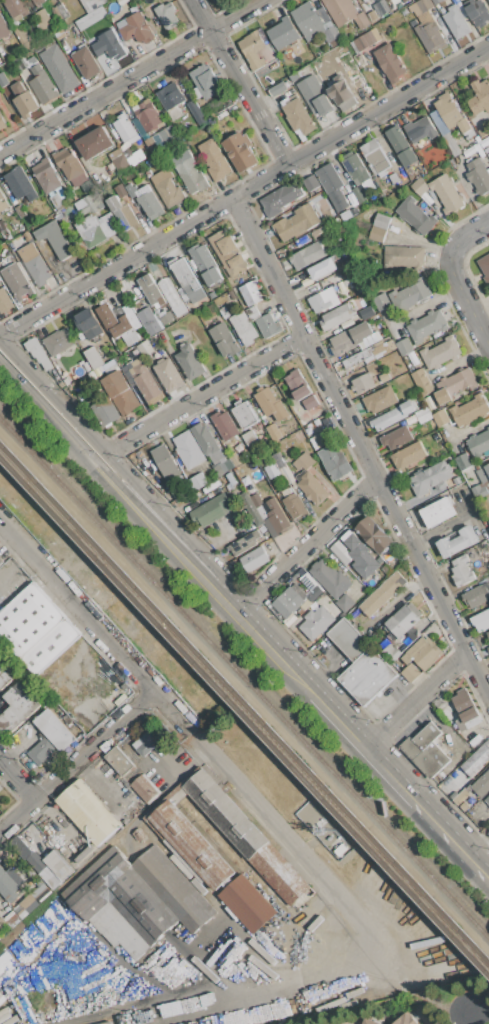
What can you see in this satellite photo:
building: (357, 0)
building: (359, 0)
building: (385, 0)
building: (387, 0)
building: (401, 0)
building: (488, 0)
building: (35, 1)
building: (214, 1)
building: (366, 1)
building: (90, 4)
building: (422, 6)
building: (16, 8)
building: (381, 8)
building: (340, 10)
building: (477, 13)
building: (166, 15)
road: (237, 15)
building: (373, 15)
building: (306, 18)
building: (43, 20)
building: (361, 21)
building: (456, 22)
building: (3, 28)
building: (136, 29)
building: (331, 34)
building: (22, 36)
building: (284, 36)
building: (430, 36)
building: (365, 41)
building: (109, 45)
building: (39, 47)
building: (253, 49)
building: (86, 63)
building: (389, 63)
building: (59, 68)
building: (205, 81)
road: (241, 82)
building: (43, 84)
building: (278, 89)
building: (342, 92)
road: (105, 93)
building: (314, 95)
building: (480, 97)
building: (173, 100)
building: (26, 103)
building: (222, 103)
building: (196, 112)
building: (451, 113)
building: (147, 116)
building: (299, 117)
building: (2, 121)
building: (126, 128)
building: (420, 130)
building: (164, 136)
building: (396, 138)
building: (95, 142)
building: (151, 144)
building: (241, 152)
building: (374, 155)
building: (408, 157)
building: (119, 160)
building: (214, 160)
building: (71, 167)
building: (356, 169)
building: (189, 172)
building: (46, 175)
building: (478, 176)
building: (393, 177)
building: (21, 184)
building: (312, 184)
building: (332, 185)
building: (88, 186)
building: (167, 187)
building: (419, 187)
road: (244, 191)
building: (447, 193)
building: (356, 194)
building: (280, 198)
building: (147, 201)
building: (3, 202)
building: (84, 206)
building: (122, 212)
building: (333, 212)
building: (346, 215)
building: (415, 216)
building: (381, 221)
building: (297, 222)
building: (109, 225)
building: (94, 230)
building: (378, 234)
road: (468, 237)
building: (55, 239)
building: (308, 255)
building: (231, 256)
building: (404, 257)
building: (35, 264)
building: (206, 264)
building: (324, 267)
building: (485, 268)
building: (185, 276)
building: (17, 281)
building: (0, 284)
building: (151, 289)
building: (251, 293)
building: (182, 294)
building: (410, 295)
building: (172, 297)
building: (322, 300)
road: (466, 300)
building: (5, 301)
building: (382, 302)
building: (251, 310)
building: (367, 312)
building: (254, 316)
building: (337, 316)
building: (167, 319)
building: (149, 321)
building: (117, 324)
building: (268, 325)
building: (87, 326)
building: (426, 326)
building: (244, 327)
building: (352, 337)
building: (224, 338)
building: (58, 341)
building: (404, 347)
building: (145, 348)
building: (381, 350)
building: (38, 353)
building: (441, 353)
building: (94, 356)
building: (358, 357)
building: (190, 361)
building: (168, 374)
building: (146, 381)
building: (422, 382)
building: (456, 382)
building: (363, 383)
building: (298, 384)
building: (120, 392)
road: (206, 394)
building: (380, 399)
building: (310, 402)
building: (271, 404)
building: (469, 410)
building: (105, 411)
building: (244, 414)
building: (423, 414)
road: (48, 415)
building: (393, 416)
building: (440, 418)
building: (328, 421)
building: (225, 425)
building: (257, 430)
building: (249, 437)
building: (397, 438)
building: (318, 440)
building: (478, 443)
building: (208, 444)
road: (361, 445)
building: (188, 450)
building: (408, 455)
building: (164, 459)
building: (235, 459)
building: (303, 461)
building: (335, 461)
building: (463, 461)
building: (271, 468)
road: (125, 470)
building: (483, 473)
building: (287, 474)
building: (430, 478)
building: (198, 481)
building: (312, 488)
building: (477, 492)
building: (292, 504)
building: (212, 509)
building: (252, 509)
building: (439, 511)
building: (272, 512)
building: (375, 535)
road: (167, 540)
building: (245, 542)
building: (457, 542)
road: (308, 544)
building: (356, 555)
building: (254, 559)
building: (0, 563)
building: (387, 569)
building: (462, 571)
building: (330, 578)
building: (476, 595)
building: (384, 596)
building: (298, 598)
building: (345, 603)
building: (336, 612)
building: (481, 621)
building: (317, 622)
building: (403, 622)
road: (96, 623)
building: (36, 628)
building: (488, 634)
road: (272, 647)
building: (488, 648)
building: (391, 652)
building: (423, 653)
building: (361, 664)
building: (411, 672)
building: (5, 676)
railway: (244, 679)
building: (118, 697)
railway: (244, 697)
road: (417, 698)
building: (18, 707)
railway: (244, 710)
building: (465, 710)
building: (50, 737)
road: (360, 740)
building: (148, 741)
building: (427, 750)
building: (477, 760)
road: (78, 761)
building: (119, 761)
road: (18, 779)
building: (482, 785)
building: (144, 788)
building: (463, 795)
building: (487, 800)
building: (0, 802)
building: (464, 806)
building: (89, 812)
building: (323, 829)
road: (452, 835)
building: (181, 837)
road: (478, 844)
building: (28, 854)
building: (59, 864)
building: (50, 877)
building: (7, 886)
building: (137, 899)
building: (0, 901)
building: (29, 902)
building: (247, 903)
building: (20, 911)
building: (11, 919)
building: (3, 926)
road: (355, 959)
road: (481, 1015)
building: (406, 1020)
building: (370, 1021)
building: (107, 1022)

